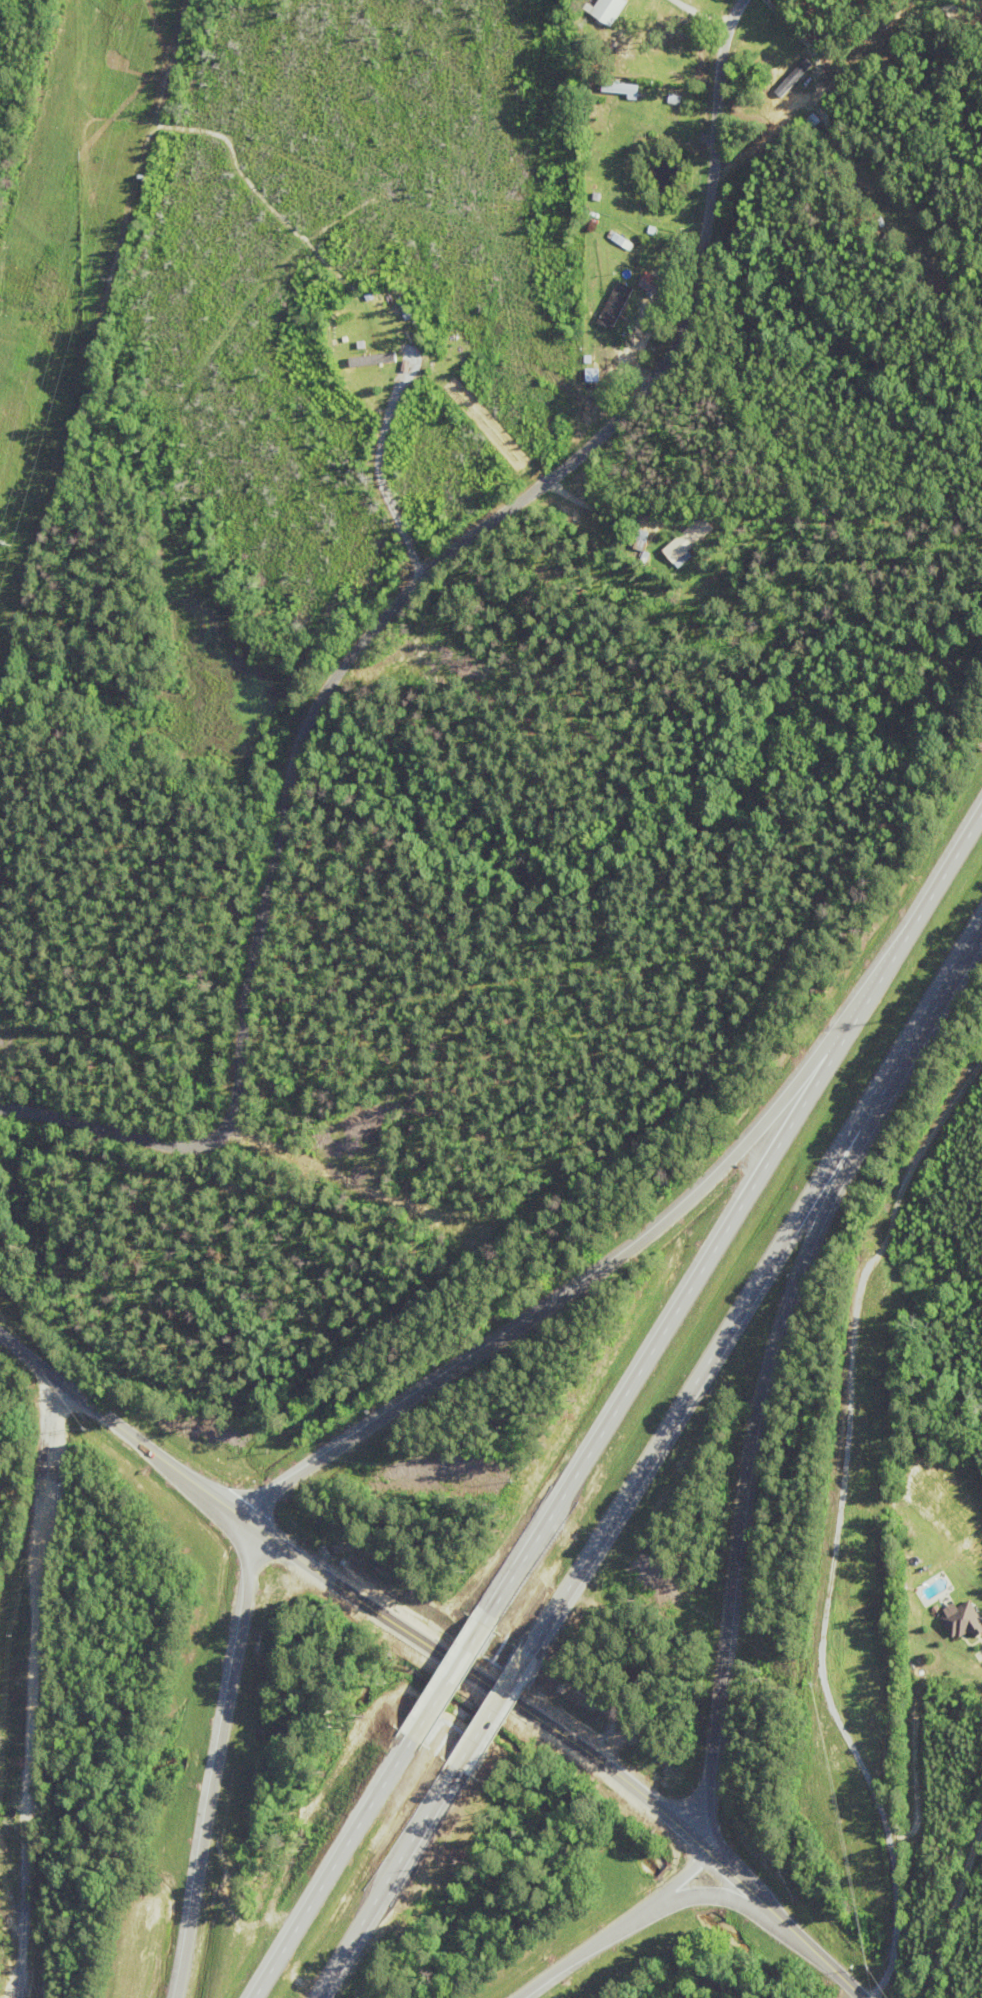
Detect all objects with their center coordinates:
building: (797, 67)
building: (651, 286)
building: (616, 305)
building: (377, 358)
power tower: (5, 540)
building: (688, 540)
road: (384, 635)
road: (916, 919)
road: (756, 1284)
road: (565, 1294)
road: (671, 1320)
road: (757, 1402)
road: (241, 1516)
building: (962, 1622)
road: (452, 1677)
road: (494, 1709)
road: (218, 1764)
road: (687, 1832)
road: (334, 1869)
road: (680, 1878)
road: (387, 1882)
road: (712, 1896)
road: (584, 1950)

